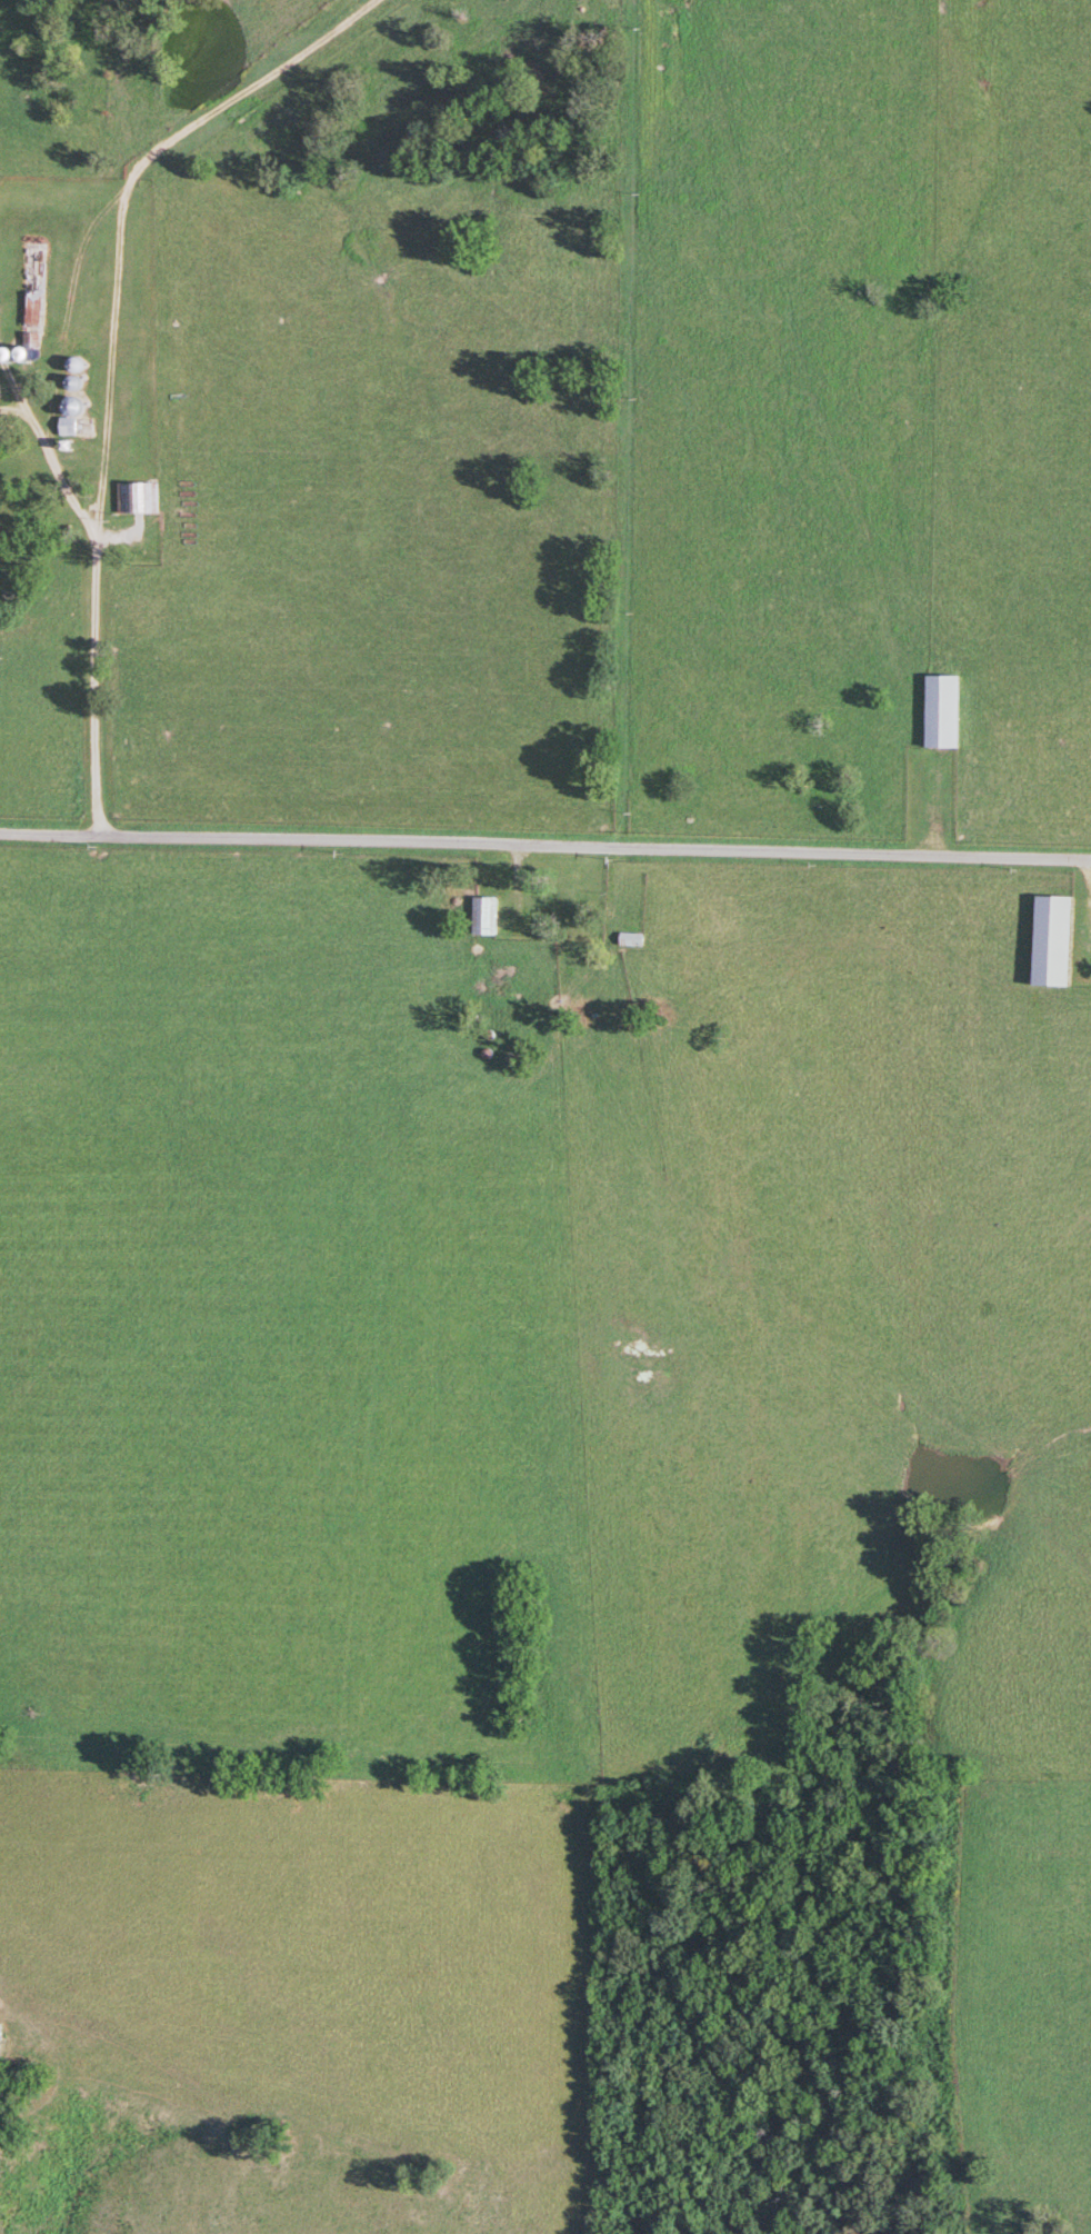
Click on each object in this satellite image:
building: (31, 287)
building: (30, 338)
building: (74, 425)
building: (137, 498)
road: (91, 649)
building: (942, 709)
road: (544, 848)
building: (483, 914)
building: (631, 937)
building: (1052, 938)

